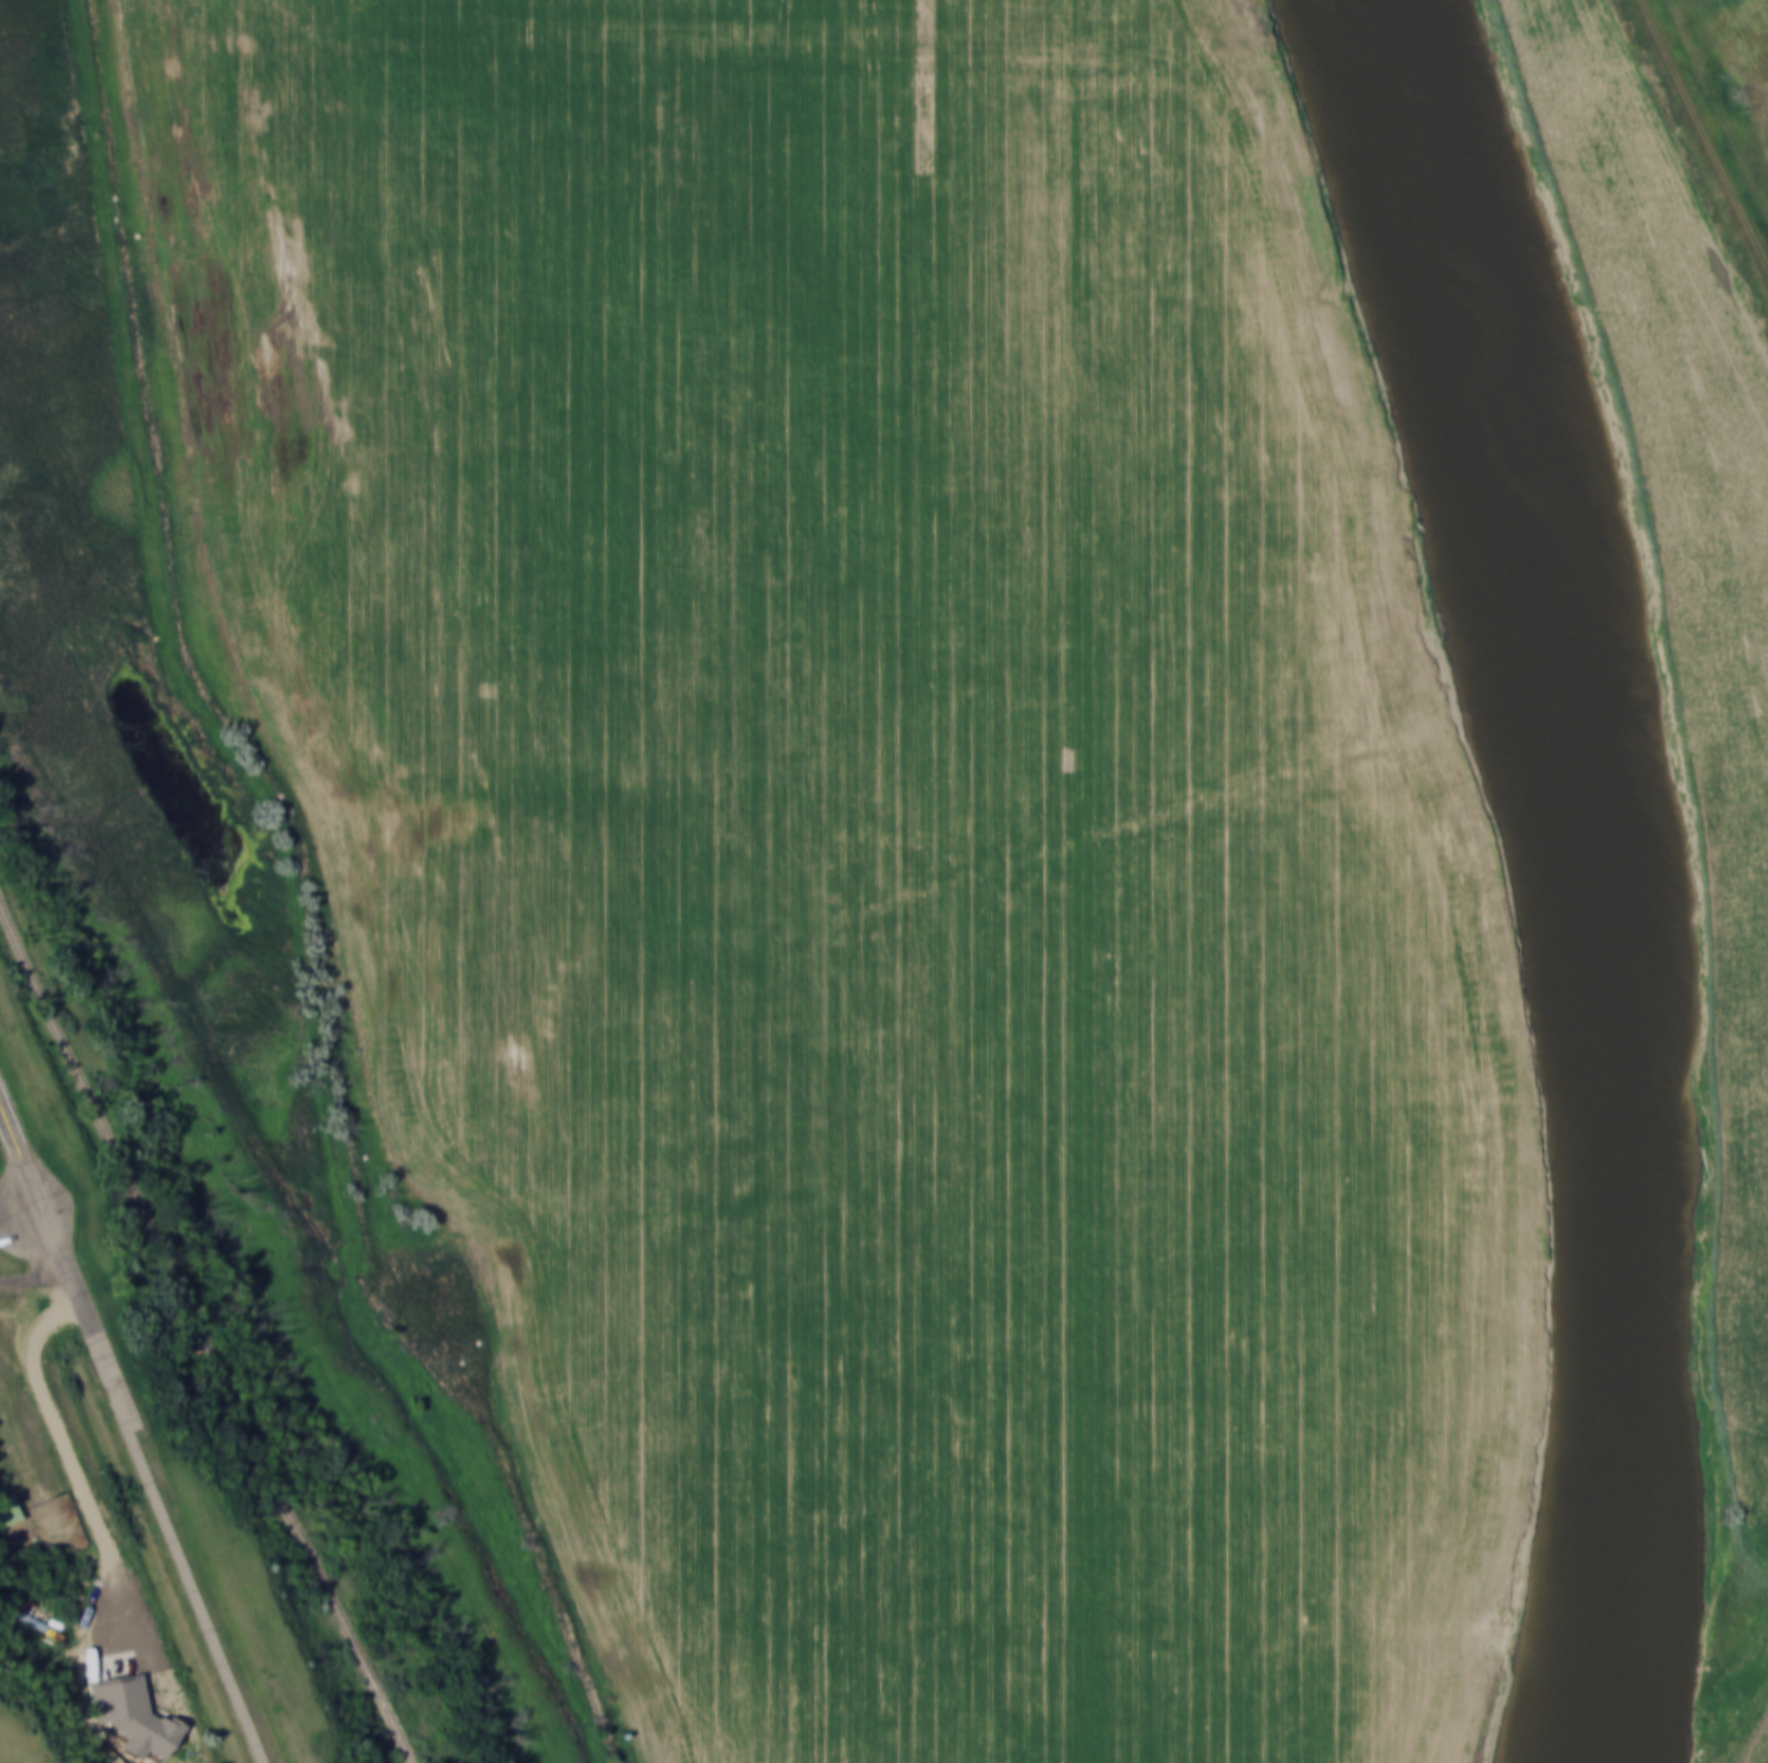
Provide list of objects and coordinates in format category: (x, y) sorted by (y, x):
river: (1621, 868)
road: (23, 1170)
railway: (206, 1332)
road: (153, 1496)

